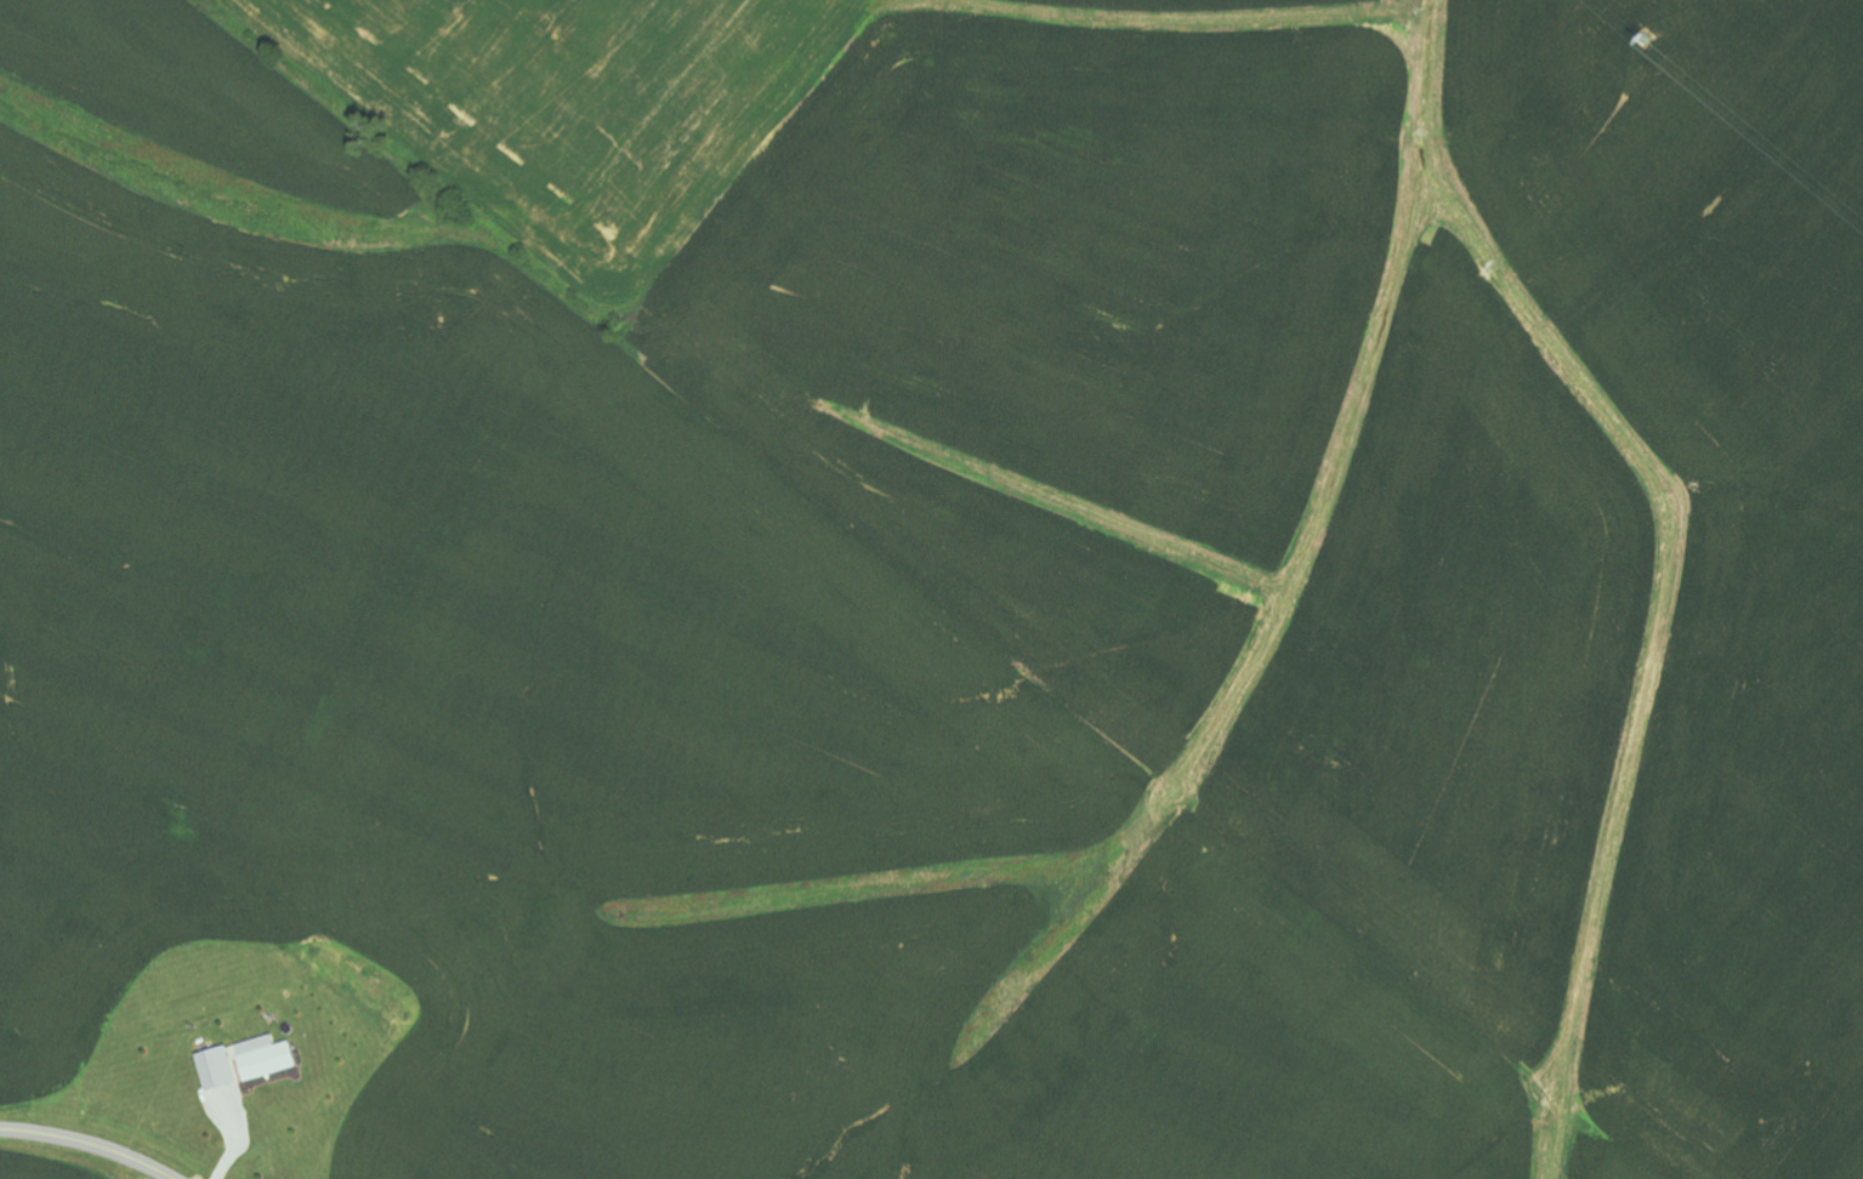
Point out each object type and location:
building: (245, 1064)
road: (87, 1144)

